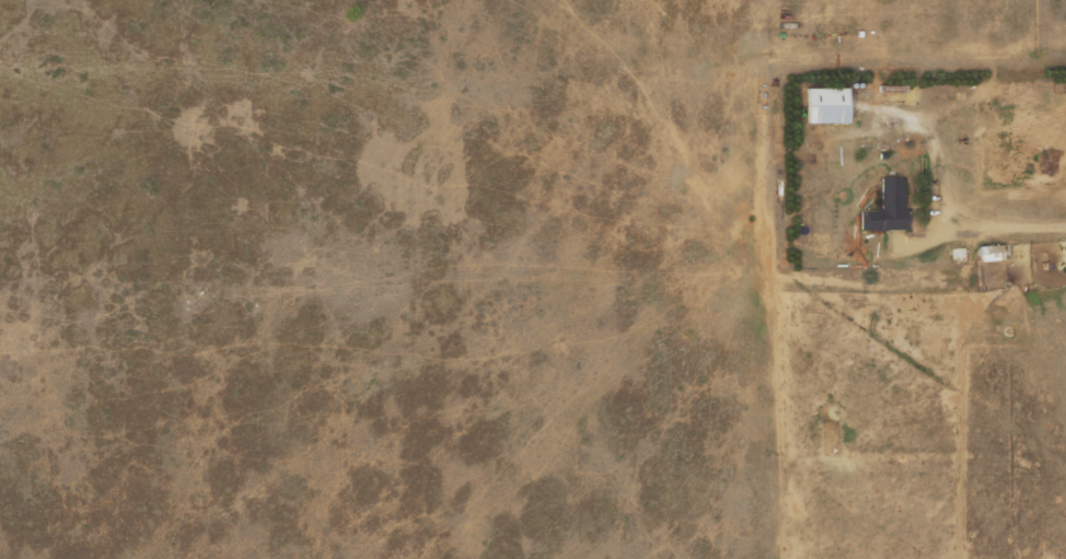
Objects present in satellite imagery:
building: (829, 106)
building: (889, 208)
road: (1009, 221)
building: (992, 254)

